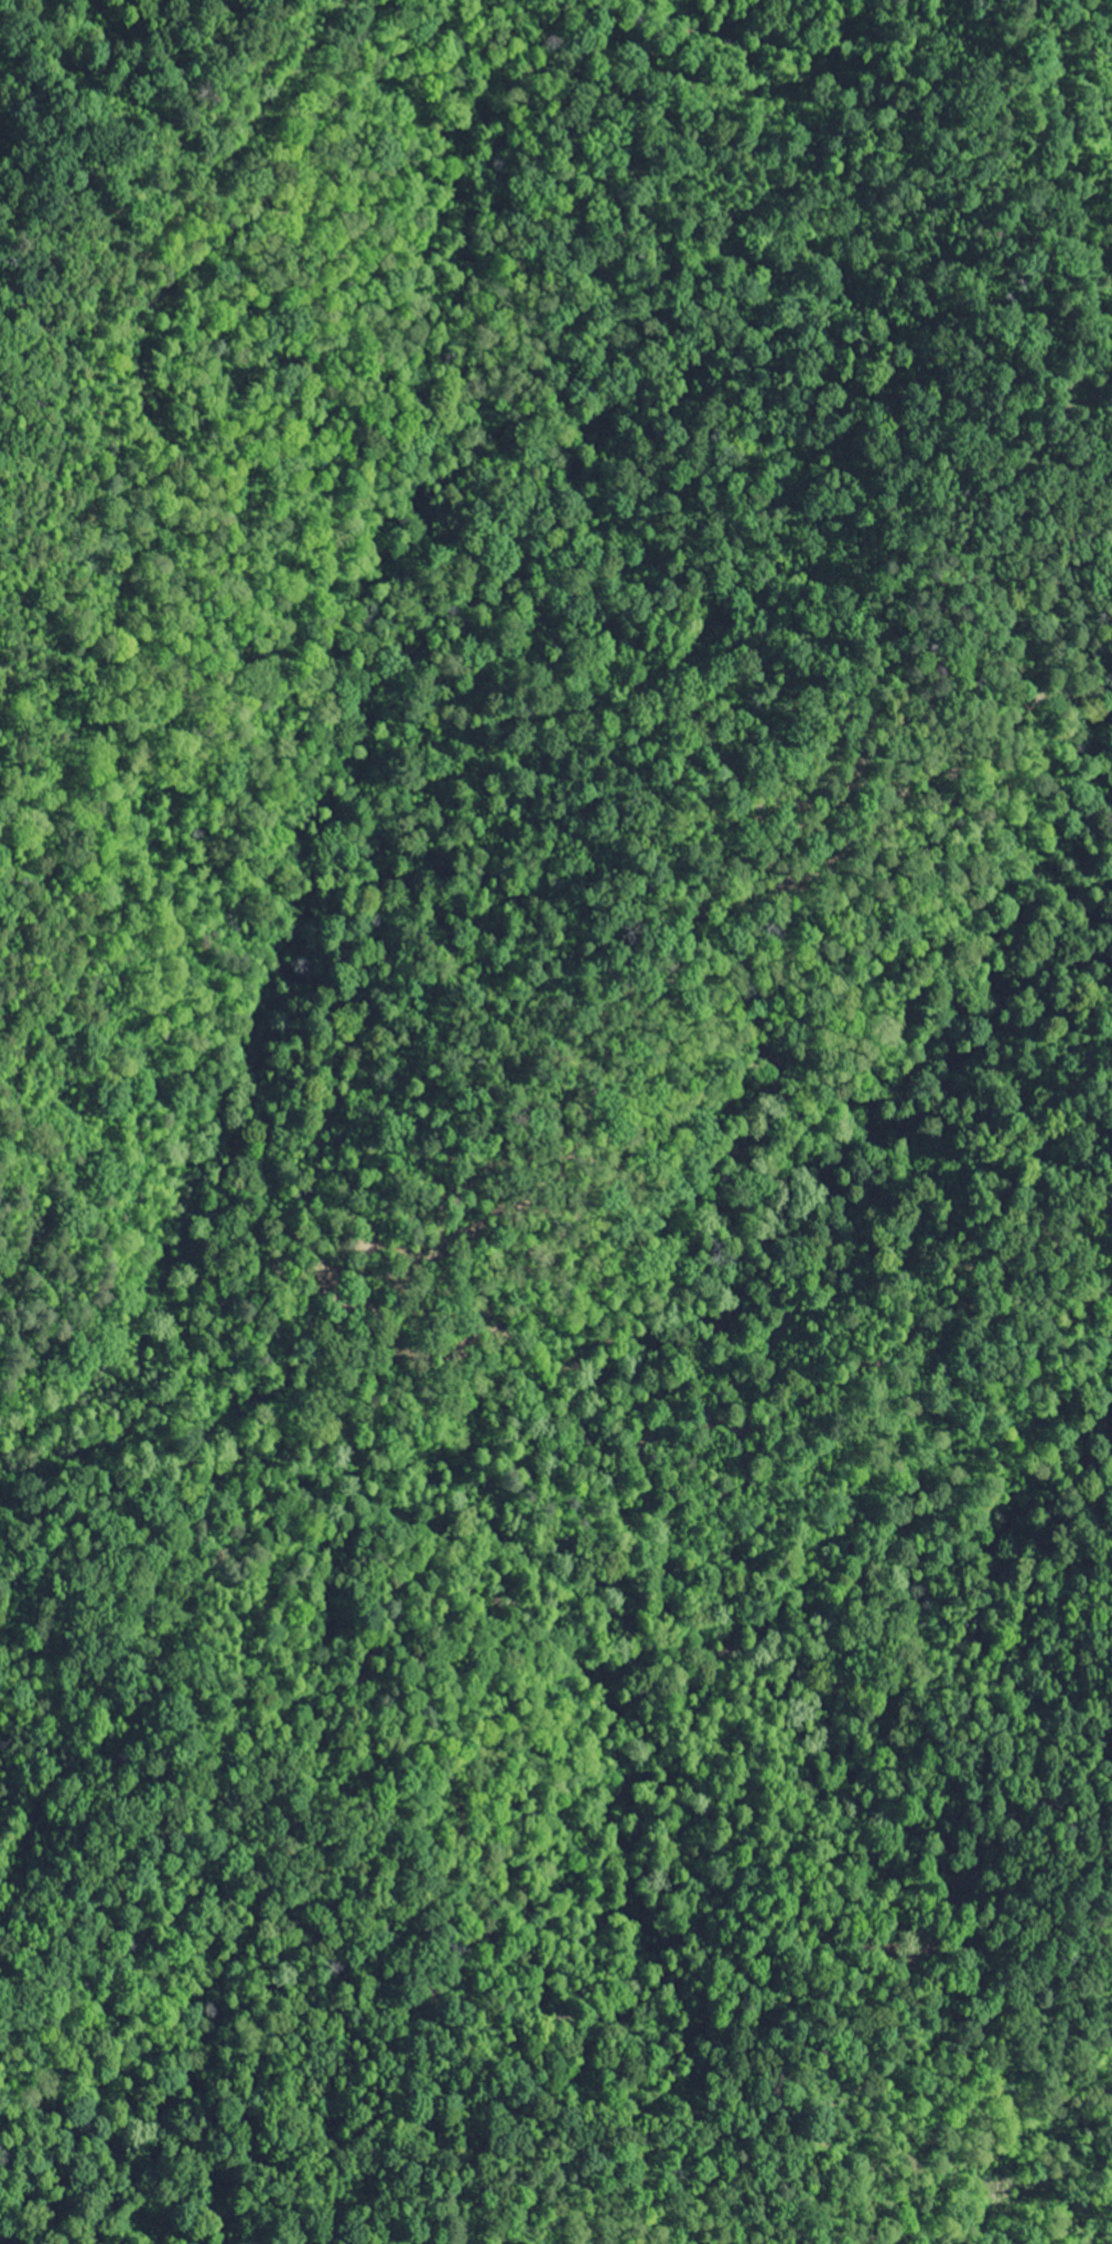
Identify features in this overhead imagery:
road: (80, 1810)

